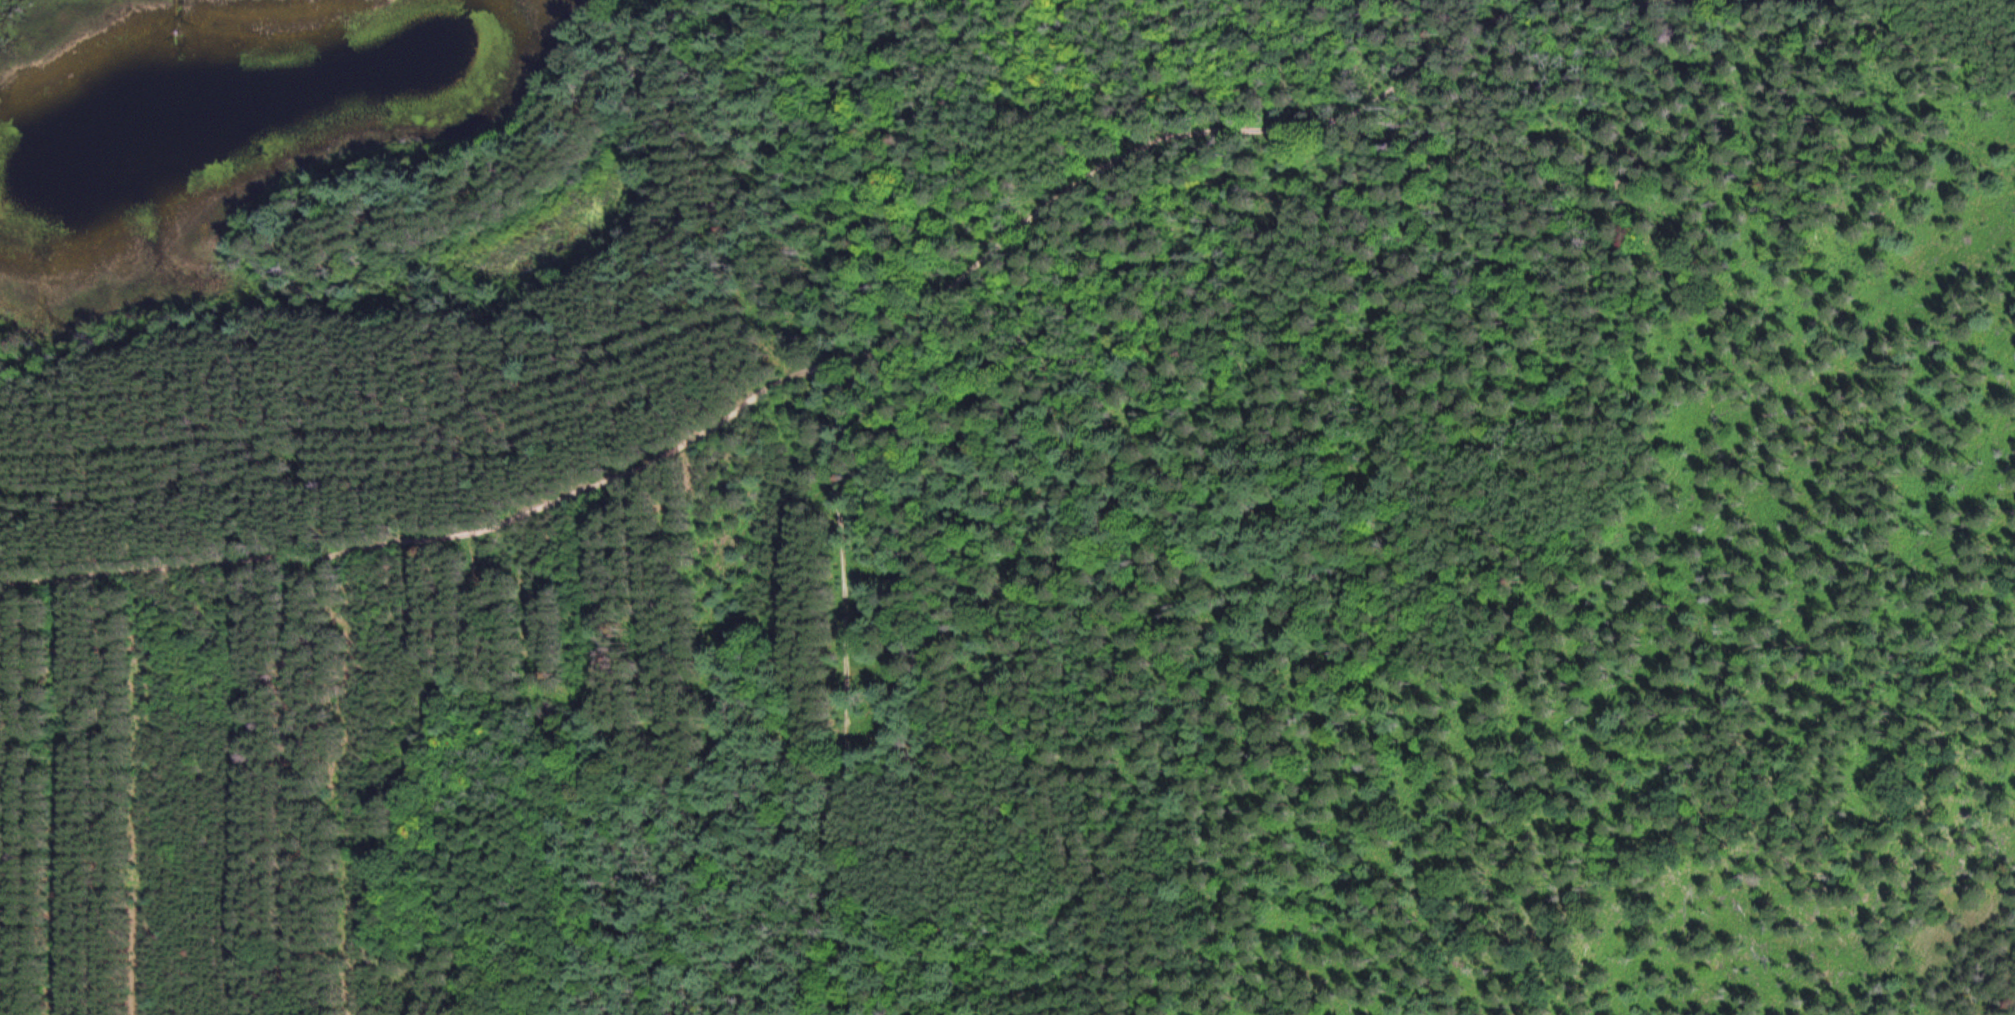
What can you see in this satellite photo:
road: (1908, 1)
road: (804, 369)
road: (837, 674)

